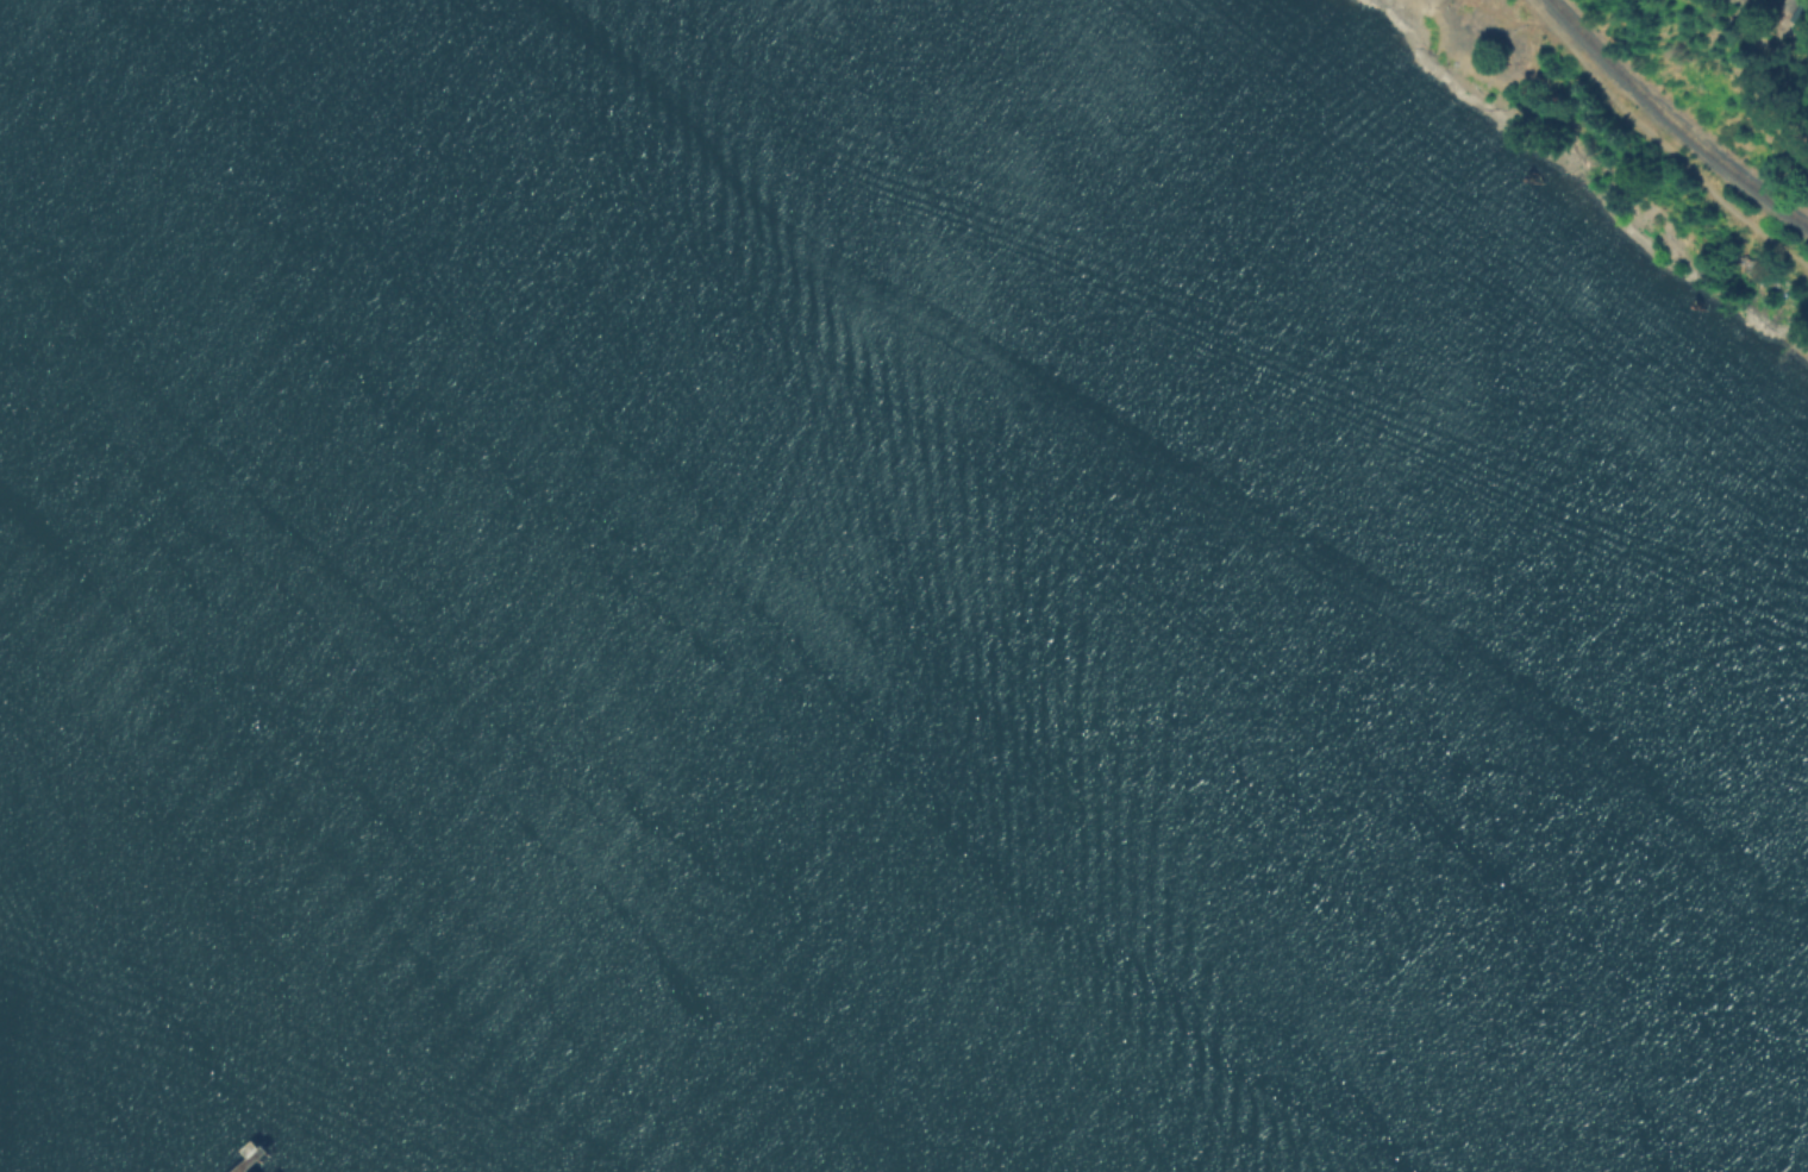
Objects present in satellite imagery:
building: (1803, 12)
railway: (1672, 120)
road: (1660, 140)
river: (767, 585)
pier: (254, 1157)

